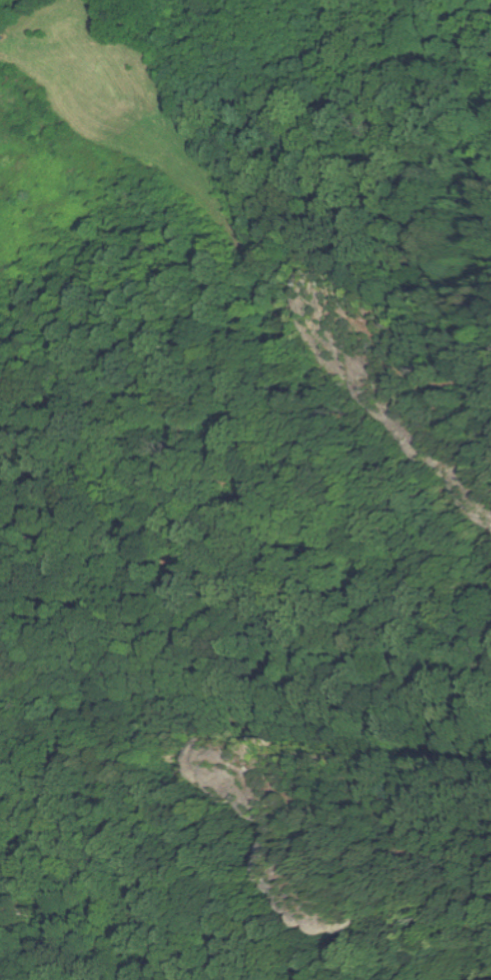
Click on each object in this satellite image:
road: (191, 189)
road: (377, 318)
road: (189, 508)
road: (372, 514)
road: (30, 688)
road: (274, 730)
road: (367, 834)
road: (180, 888)

